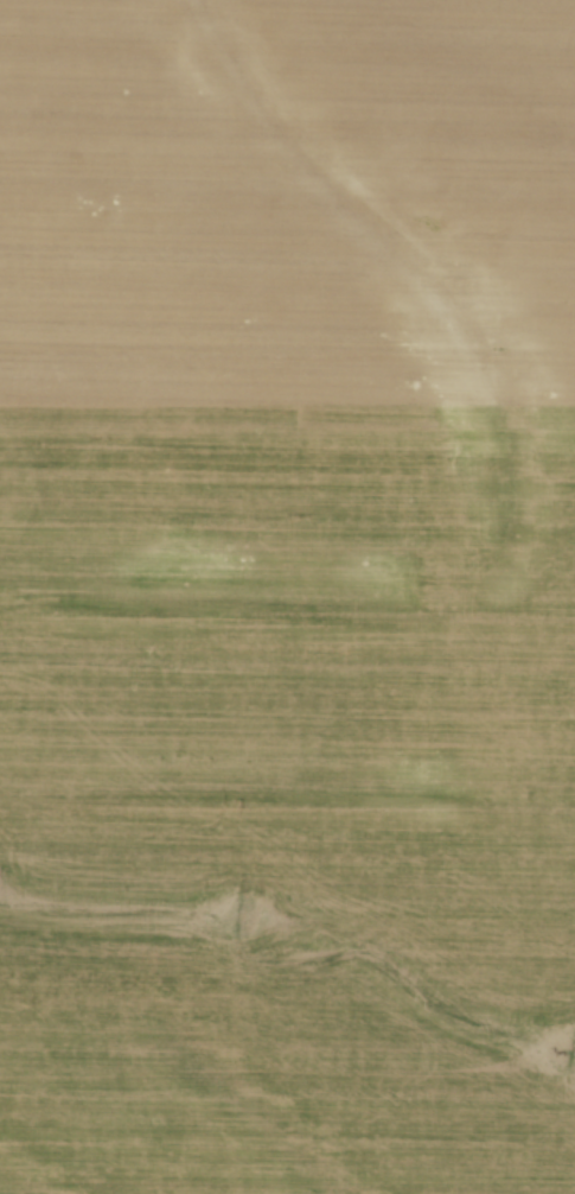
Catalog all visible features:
crop: (287, 597)

